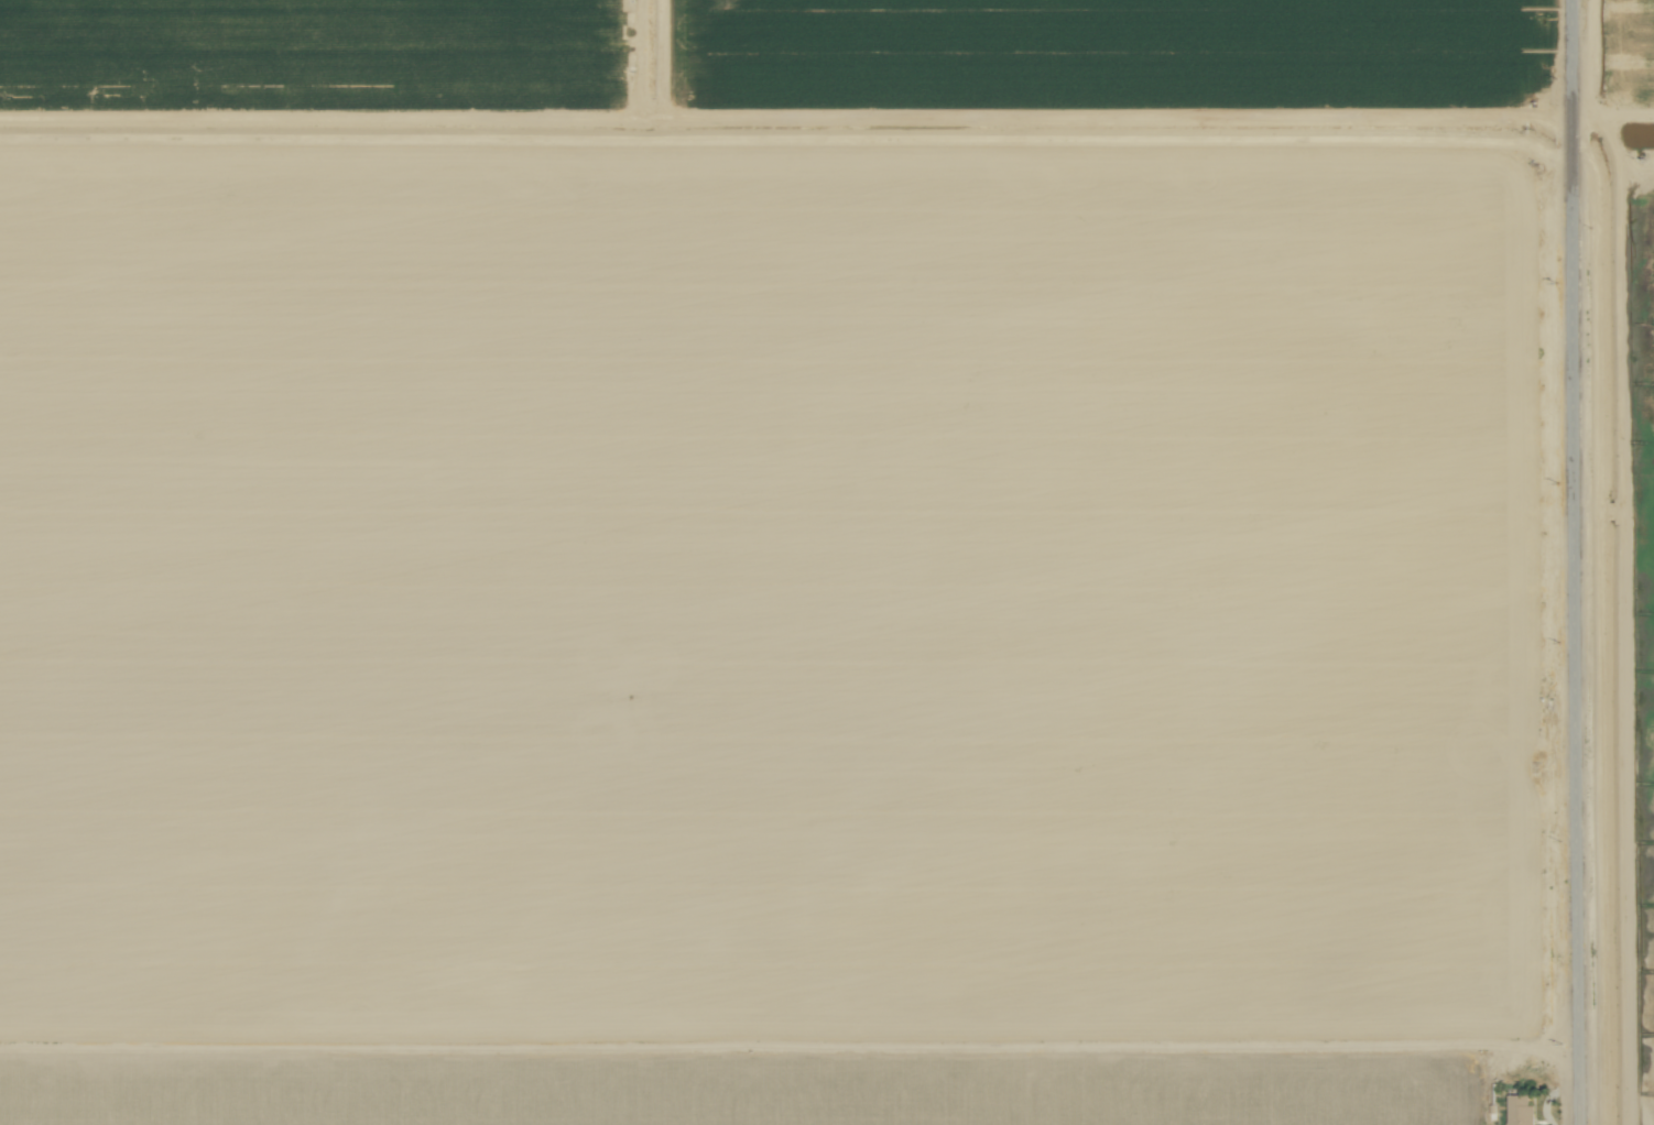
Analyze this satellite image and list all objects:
road: (1576, 561)
crop: (827, 562)
building: (1519, 1110)

